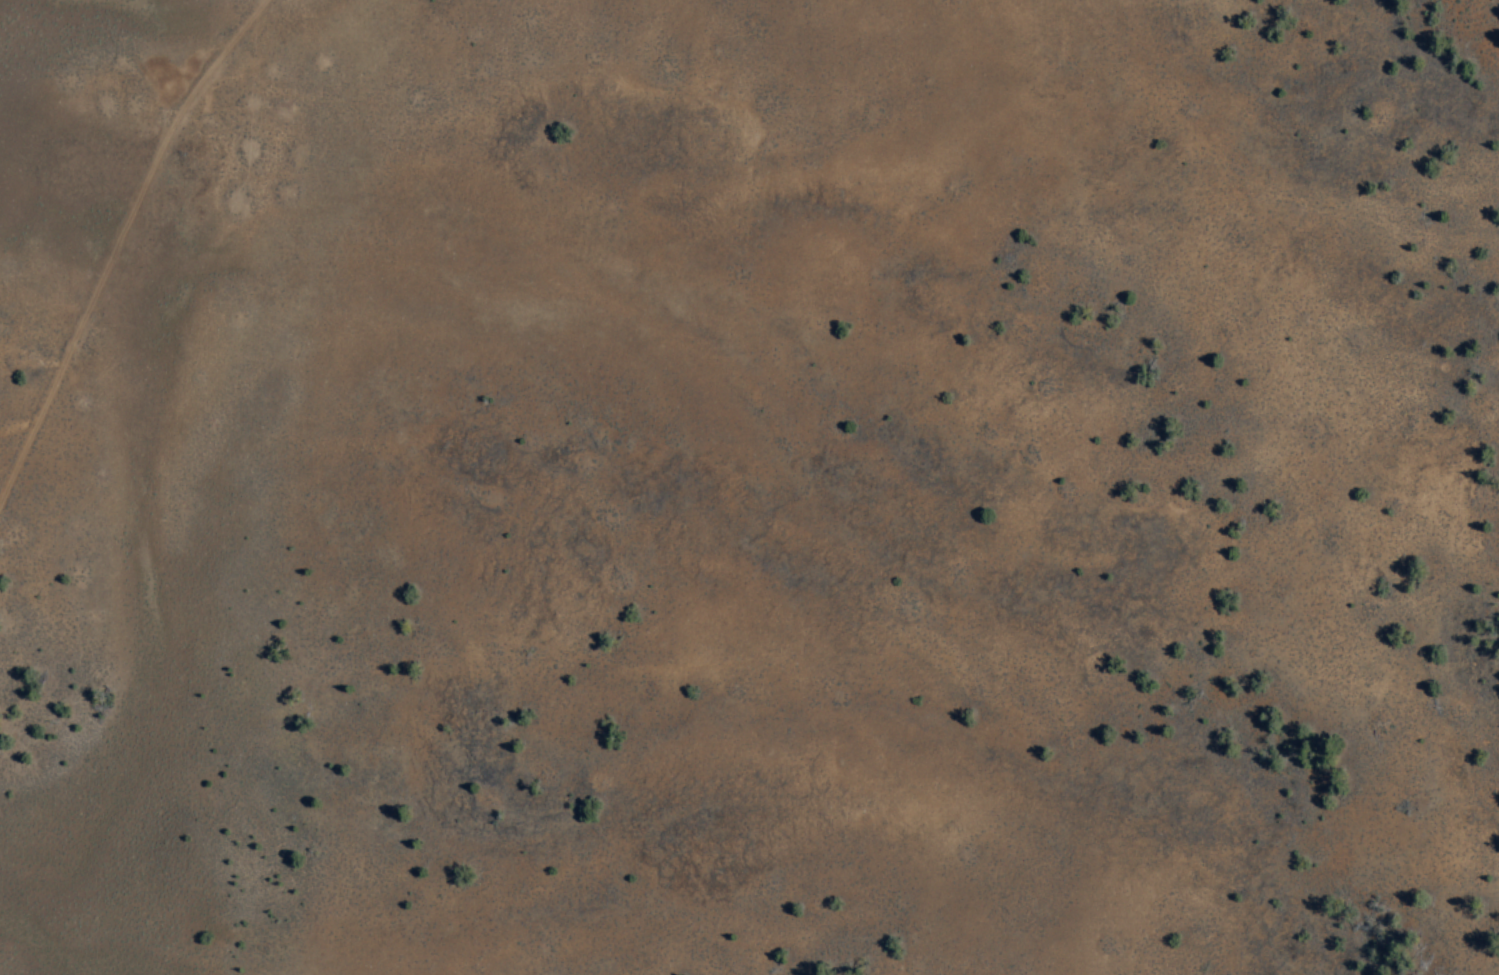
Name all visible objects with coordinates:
road: (119, 247)

